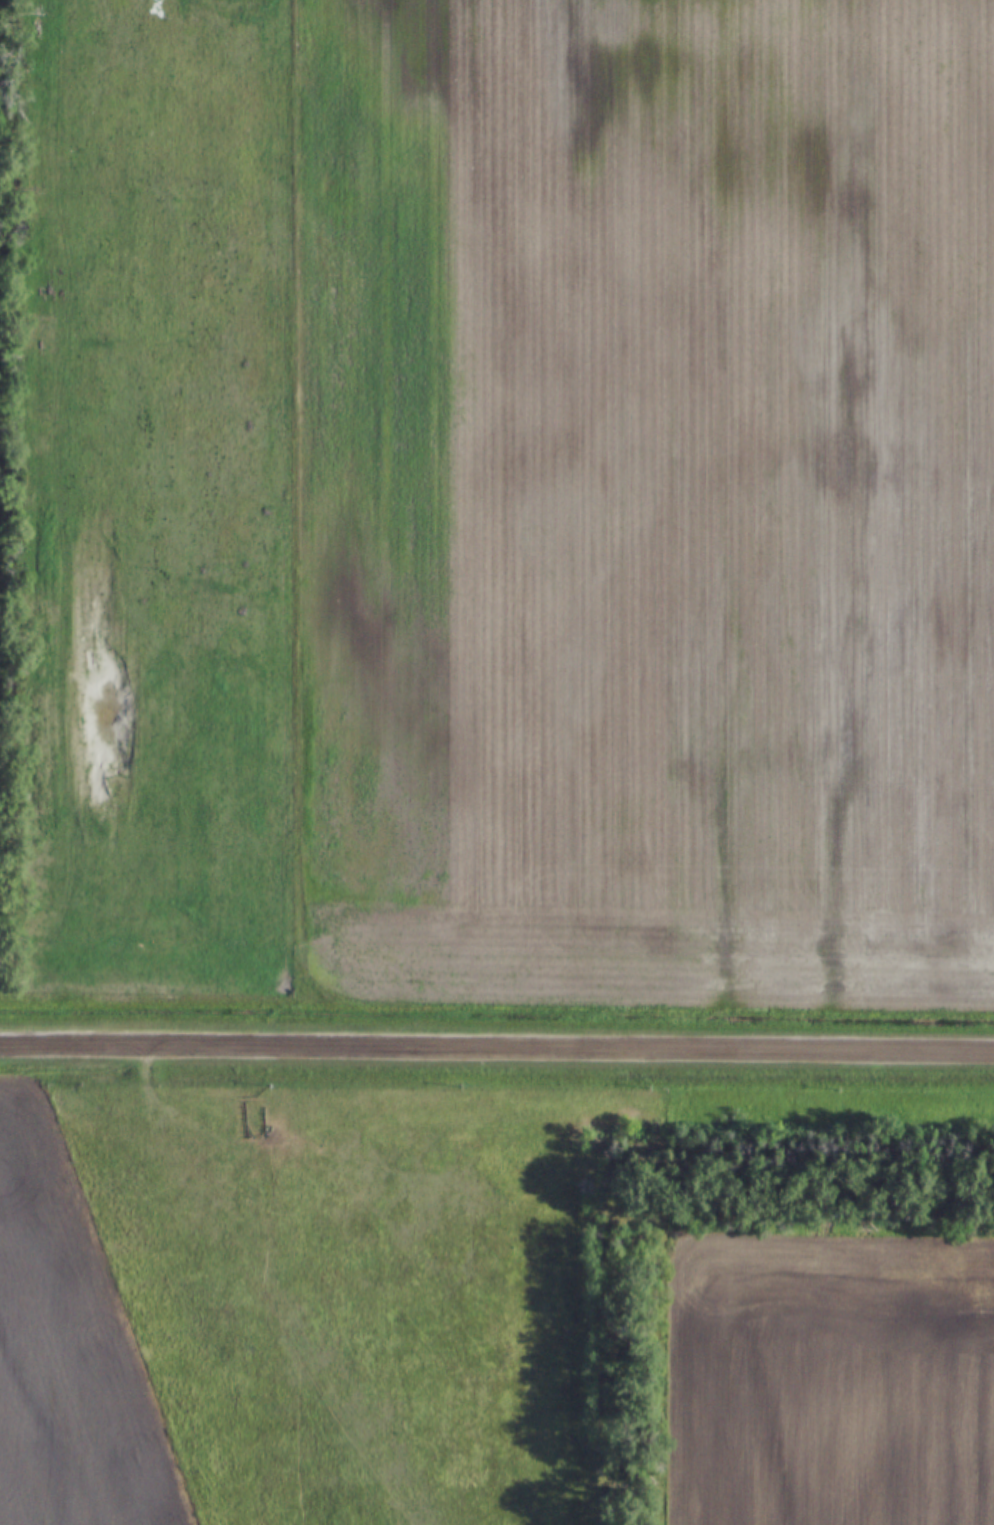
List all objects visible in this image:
road: (497, 1044)

